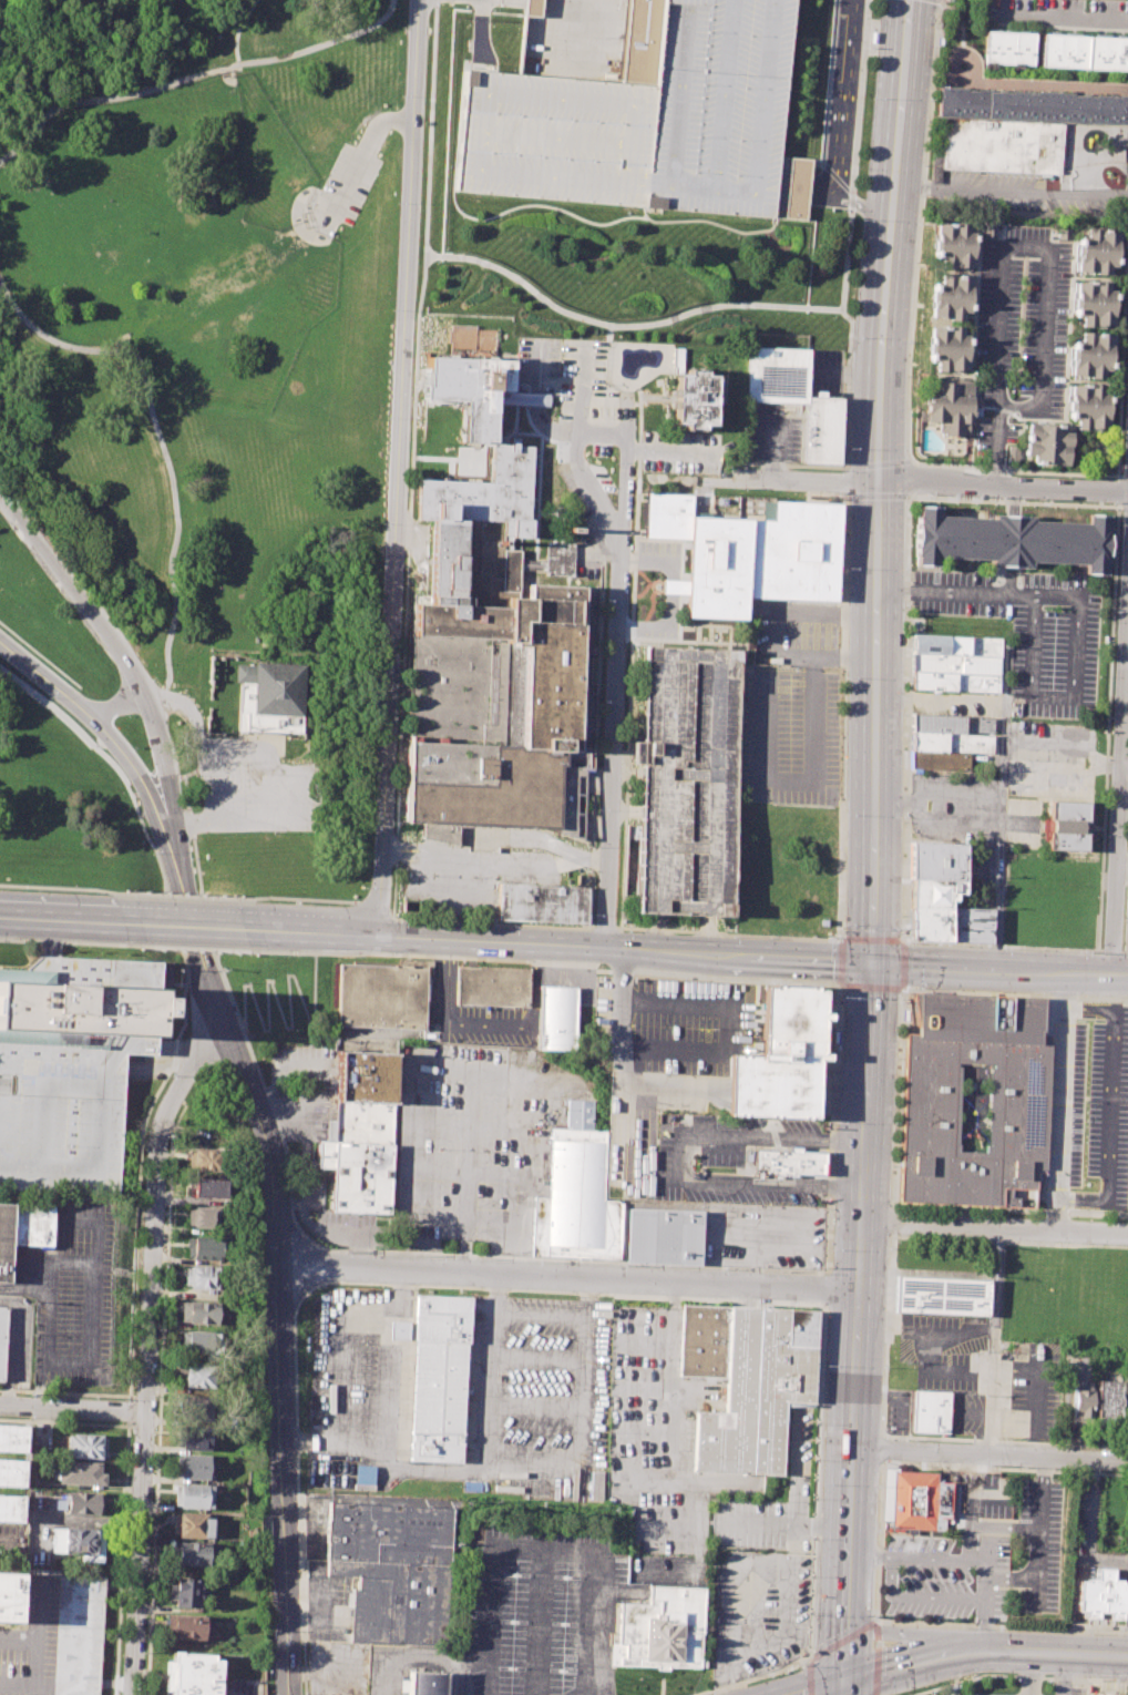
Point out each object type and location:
road: (1060, 12)
street lamp: (377, 13)
parking lot: (1056, 13)
road: (237, 30)
street lamp: (325, 34)
building: (1008, 45)
building: (1084, 49)
street lamp: (268, 52)
street lamp: (212, 65)
road: (195, 75)
street lamp: (156, 81)
road: (828, 82)
building: (683, 93)
street lamp: (99, 94)
street lamp: (400, 95)
street lamp: (929, 100)
street lamp: (872, 102)
building: (1032, 103)
road: (858, 105)
street lamp: (41, 111)
road: (430, 127)
building: (1001, 143)
road: (361, 151)
street lamp: (0, 152)
road: (488, 159)
road: (835, 176)
parking lot: (348, 183)
road: (849, 191)
road: (987, 192)
road: (1105, 196)
road: (1127, 197)
street lamp: (396, 203)
street lamp: (861, 219)
street lamp: (919, 222)
road: (919, 228)
street lamp: (521, 237)
building: (953, 242)
road: (1009, 246)
building: (1097, 247)
street lamp: (736, 259)
street lamp: (437, 262)
street lamp: (481, 267)
street lamp: (687, 279)
street lamp: (578, 280)
street lamp: (614, 283)
street lamp: (530, 293)
building: (951, 294)
building: (1094, 302)
street lamp: (391, 306)
road: (799, 308)
street lamp: (724, 310)
street lamp: (778, 312)
street lamp: (4, 313)
street lamp: (833, 317)
street lamp: (568, 318)
street lamp: (1127, 318)
street lamp: (671, 324)
street lamp: (614, 329)
street lamp: (851, 337)
street lamp: (907, 341)
street lamp: (608, 344)
building: (948, 346)
street lamp: (51, 350)
building: (1091, 353)
building: (678, 359)
parking lot: (539, 364)
road: (604, 371)
building: (473, 382)
parking lot: (586, 387)
road: (583, 389)
road: (639, 391)
road: (657, 398)
building: (694, 398)
building: (798, 398)
road: (536, 401)
street lamp: (141, 404)
road: (622, 404)
building: (1088, 404)
building: (951, 405)
street lamp: (386, 415)
road: (531, 421)
street lamp: (1122, 427)
road: (515, 430)
building: (1048, 440)
park: (195, 441)
street lamp: (847, 447)
street lamp: (905, 449)
road: (162, 450)
road: (670, 450)
parking lot: (681, 451)
street lamp: (587, 459)
street lamp: (158, 460)
street lamp: (616, 462)
road: (878, 463)
road: (787, 464)
road: (397, 468)
road: (578, 468)
road: (1022, 471)
road: (804, 479)
road: (1001, 486)
road: (574, 487)
road: (624, 489)
road: (878, 494)
road: (539, 497)
road: (1015, 500)
road: (1125, 506)
street lamp: (170, 514)
street lamp: (382, 521)
street lamp: (632, 533)
building: (1007, 540)
road: (589, 553)
building: (748, 554)
street lamp: (164, 572)
road: (844, 573)
street lamp: (219, 585)
road: (404, 585)
street lamp: (606, 600)
road: (1127, 603)
road: (1077, 614)
street lamp: (164, 629)
parking lot: (1028, 631)
street lamp: (378, 632)
road: (110, 639)
building: (956, 645)
road: (1125, 649)
building: (490, 658)
road: (632, 662)
street lamp: (162, 663)
building: (955, 663)
building: (955, 681)
road: (47, 682)
building: (276, 688)
street lamp: (688, 691)
road: (905, 700)
street lamp: (602, 701)
road: (119, 705)
building: (951, 726)
parking lot: (789, 736)
road: (595, 739)
building: (934, 743)
road: (614, 746)
street lamp: (372, 749)
road: (216, 757)
parking lot: (1050, 759)
building: (935, 762)
road: (133, 764)
road: (181, 775)
road: (267, 780)
building: (689, 780)
parking garage: (689, 780)
road: (156, 784)
street lamp: (681, 784)
parking lot: (256, 788)
road: (133, 794)
road: (1001, 805)
street lamp: (597, 810)
parking lot: (956, 815)
parking lot: (1024, 823)
building: (1068, 825)
street lamp: (370, 827)
building: (438, 833)
railway: (857, 847)
road: (869, 847)
railway: (889, 847)
road: (1118, 850)
building: (935, 858)
road: (1122, 858)
road: (495, 861)
road: (1122, 871)
street lamp: (432, 874)
street lamp: (471, 876)
road: (63, 886)
street lamp: (365, 887)
building: (933, 890)
road: (188, 895)
road: (199, 897)
road: (304, 898)
street lamp: (309, 901)
building: (543, 902)
road: (372, 909)
road: (193, 916)
street lamp: (401, 917)
street lamp: (594, 917)
road: (64, 919)
road: (490, 922)
building: (930, 922)
building: (970, 923)
road: (194, 925)
street lamp: (843, 925)
street lamp: (514, 926)
road: (603, 927)
street lamp: (627, 930)
road: (319, 931)
road: (727, 932)
street lamp: (903, 932)
street lamp: (732, 936)
street lamp: (828, 937)
road: (64, 941)
street lamp: (922, 943)
road: (560, 946)
street lamp: (967, 946)
road: (1002, 946)
road: (197, 948)
street lamp: (1004, 948)
street lamp: (1043, 949)
road: (1110, 950)
street lamp: (1080, 951)
road: (1125, 951)
road: (290, 952)
street lamp: (310, 956)
road: (804, 958)
traffic signals: (868, 961)
flagpole: (463, 962)
road: (578, 963)
road: (973, 966)
road: (1104, 972)
building: (492, 986)
road: (839, 987)
street lamp: (916, 988)
street lamp: (960, 990)
street lamp: (1002, 992)
road: (1015, 993)
building: (382, 994)
street lamp: (840, 995)
street lamp: (900, 1002)
road: (183, 1005)
parking lot: (476, 1014)
road: (280, 1015)
building: (555, 1018)
street lamp: (899, 1022)
road: (485, 1025)
road: (749, 1027)
parking lot: (668, 1056)
street lamp: (898, 1058)
building: (781, 1060)
road: (482, 1071)
building: (62, 1076)
parking garage: (62, 1076)
road: (630, 1088)
road: (678, 1088)
road: (1062, 1100)
building: (1019, 1103)
road: (1111, 1105)
parking lot: (1098, 1109)
street lamp: (834, 1121)
street lamp: (894, 1123)
road: (462, 1126)
road: (832, 1130)
building: (360, 1133)
road: (796, 1136)
parking lot: (474, 1145)
building: (207, 1160)
parking lot: (719, 1162)
building: (786, 1162)
street lamp: (893, 1164)
road: (466, 1171)
road: (470, 1173)
road: (710, 1176)
road: (720, 1185)
building: (211, 1188)
building: (574, 1194)
road: (460, 1216)
building: (204, 1217)
road: (752, 1223)
road: (993, 1226)
building: (662, 1236)
parking lot: (763, 1236)
building: (4, 1239)
building: (204, 1248)
road: (454, 1255)
road: (60, 1263)
building: (203, 1275)
road: (567, 1275)
road: (360, 1282)
road: (824, 1289)
parking lot: (71, 1291)
building: (940, 1295)
building: (199, 1313)
road: (540, 1315)
road: (343, 1328)
building: (397, 1330)
building: (2, 1337)
road: (995, 1340)
building: (202, 1342)
road: (18, 1346)
road: (150, 1348)
road: (280, 1351)
road: (92, 1356)
road: (537, 1358)
road: (492, 1370)
building: (199, 1376)
building: (439, 1378)
building: (748, 1381)
road: (161, 1390)
parking lot: (355, 1391)
road: (64, 1392)
building: (1109, 1397)
parking lot: (540, 1398)
building: (1080, 1405)
road: (388, 1406)
road: (535, 1406)
building: (1127, 1407)
road: (73, 1409)
building: (196, 1409)
road: (129, 1410)
building: (931, 1412)
road: (64, 1422)
road: (129, 1423)
parking lot: (655, 1429)
building: (12, 1437)
building: (194, 1438)
building: (86, 1446)
road: (945, 1450)
parking lot: (798, 1451)
road: (671, 1453)
road: (1085, 1457)
building: (193, 1466)
road: (522, 1469)
building: (11, 1472)
building: (79, 1473)
building: (363, 1478)
road: (816, 1482)
building: (193, 1497)
building: (917, 1501)
building: (84, 1503)
building: (11, 1508)
road: (971, 1511)
building: (192, 1525)
road: (782, 1525)
road: (1005, 1526)
road: (1038, 1531)
parking lot: (10, 1538)
building: (73, 1540)
road: (8, 1542)
road: (539, 1550)
building: (192, 1554)
road: (870, 1555)
road: (122, 1560)
road: (1103, 1561)
road: (984, 1568)
building: (392, 1569)
road: (890, 1575)
road: (1011, 1576)
building: (185, 1592)
building: (1103, 1595)
building: (10, 1597)
parking lot: (542, 1607)
parking lot: (758, 1612)
road: (788, 1614)
street lamp: (813, 1615)
street lamp: (878, 1615)
road: (537, 1623)
road: (954, 1624)
building: (188, 1625)
road: (983, 1625)
road: (35, 1626)
building: (660, 1628)
road: (859, 1630)
street lamp: (1086, 1630)
road: (907, 1634)
parking lot: (54, 1637)
road: (978, 1652)
road: (1006, 1653)
road: (1079, 1655)
road: (419, 1658)
road: (906, 1662)
parking lot: (398, 1667)
street lamp: (798, 1667)
building: (192, 1674)
road: (1030, 1674)
street lamp: (966, 1675)
road: (34, 1676)
street lamp: (1084, 1676)
road: (975, 1677)
road: (1047, 1677)
road: (750, 1678)
road: (1088, 1679)
traffic signals: (841, 1681)
road: (1120, 1681)
building: (424, 1683)
road: (817, 1687)
street lamp: (1127, 1687)
road: (953, 1689)
road: (588, 1692)
road: (598, 1692)
building: (945, 1694)
building: (1098, 1694)

